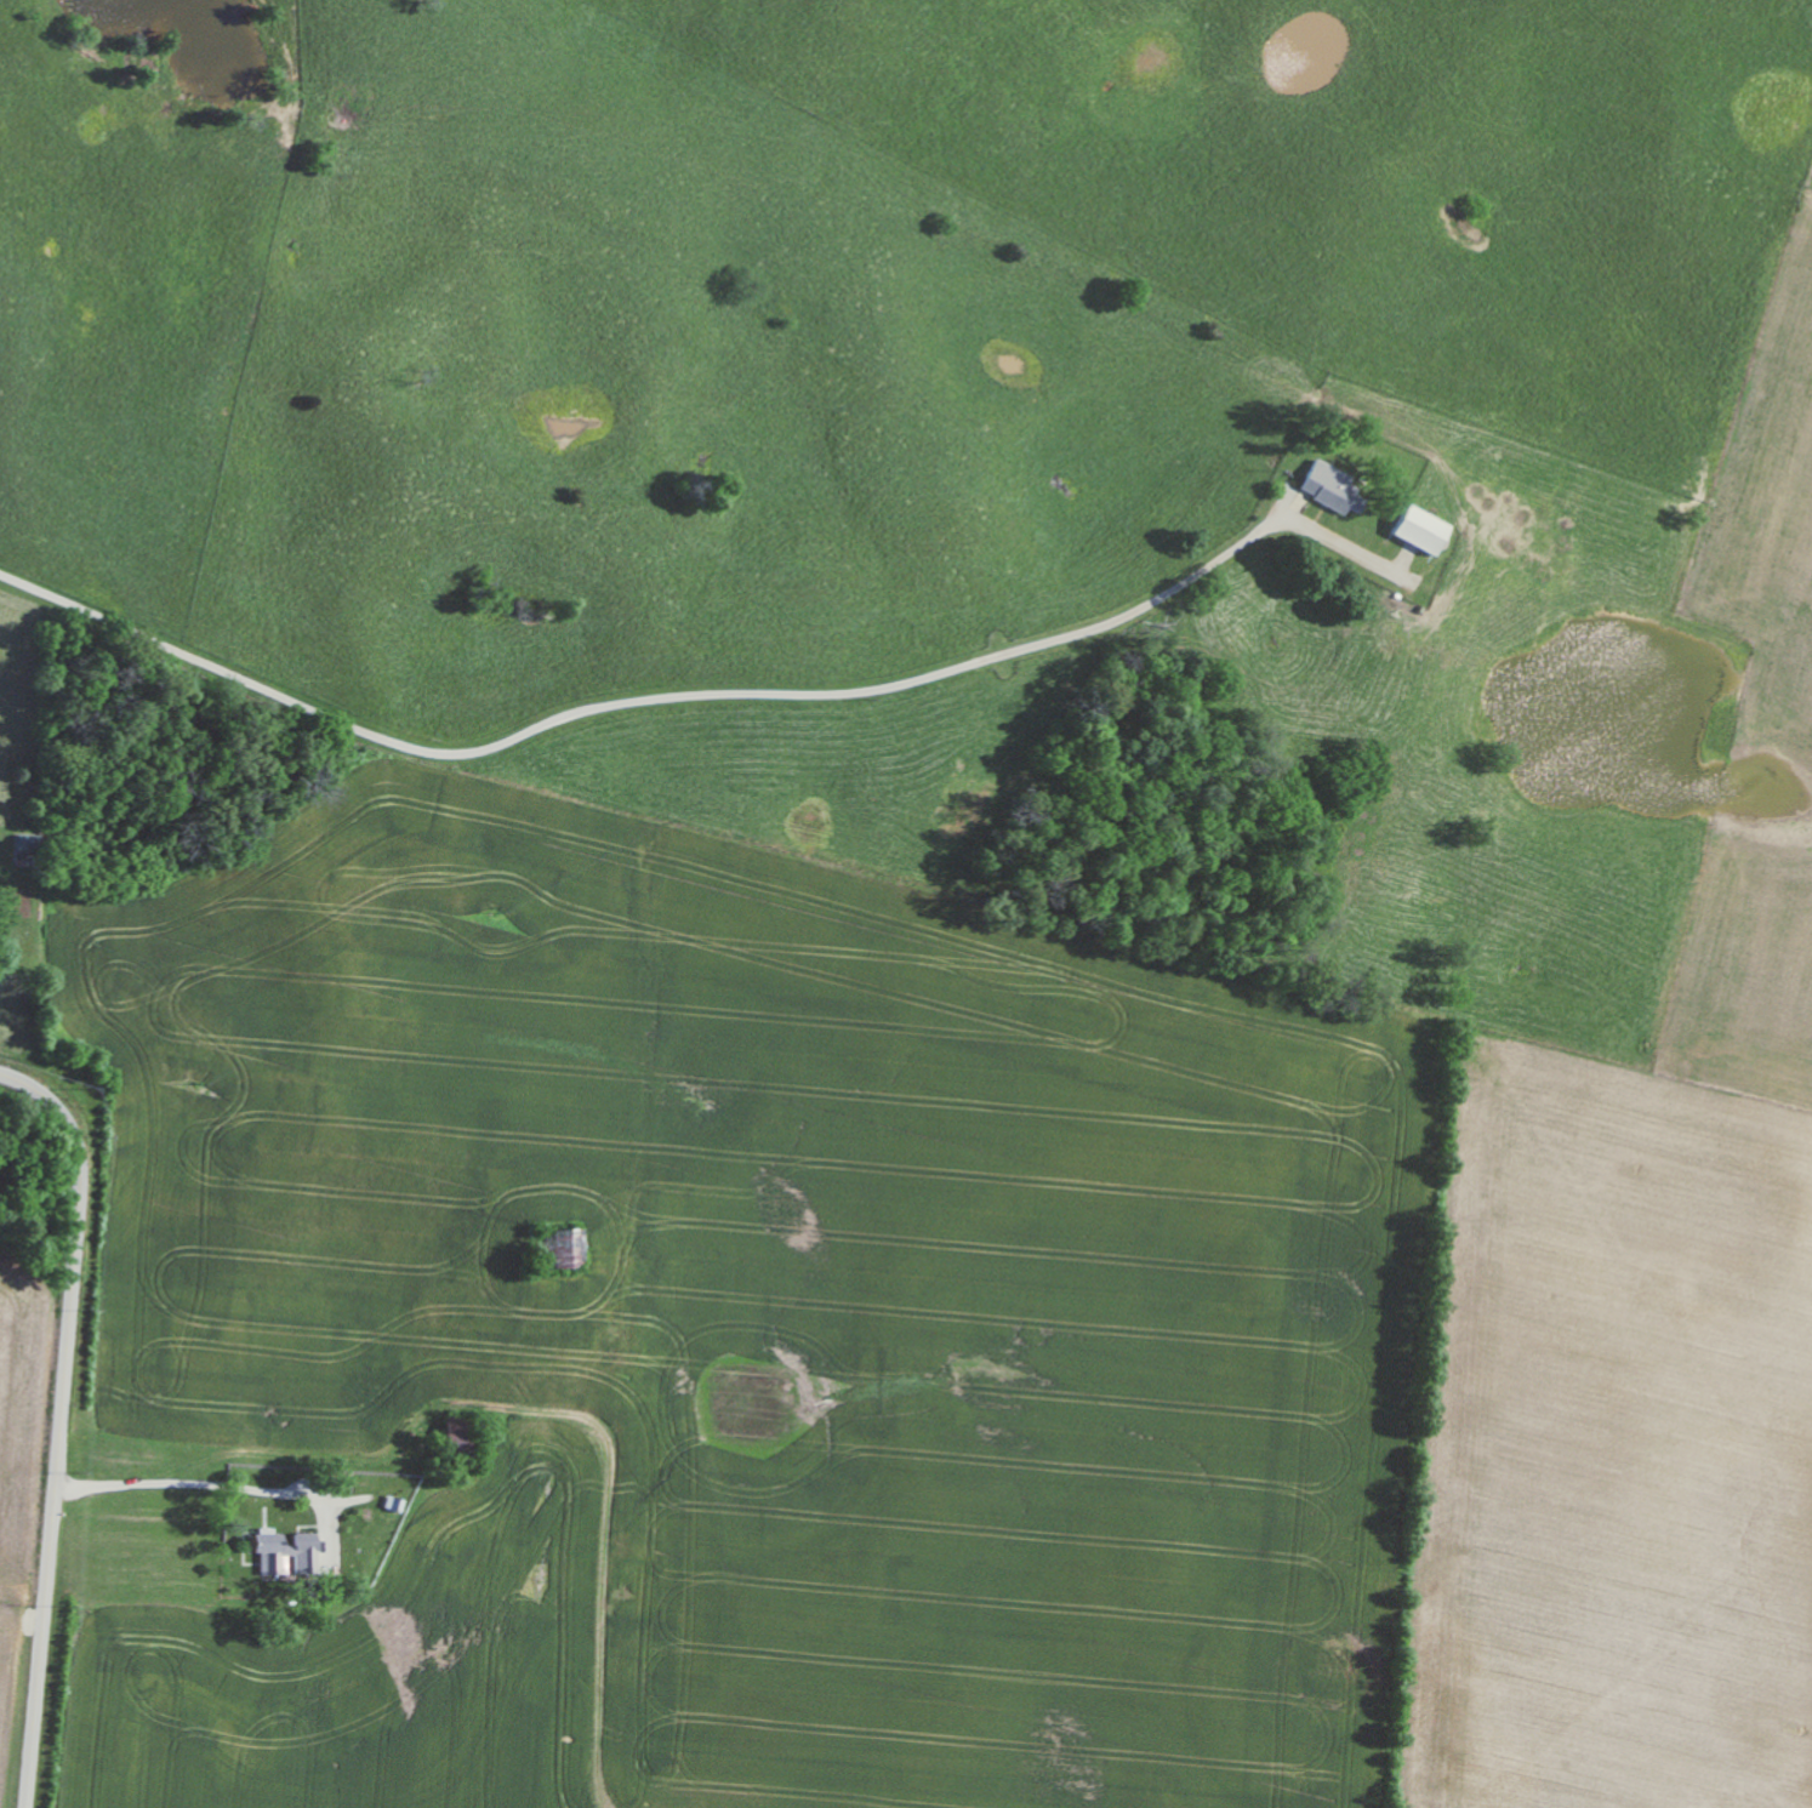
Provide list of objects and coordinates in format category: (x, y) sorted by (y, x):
building: (1332, 486)
building: (1424, 530)
road: (617, 668)
building: (569, 1247)
road: (61, 1422)
road: (222, 1496)

